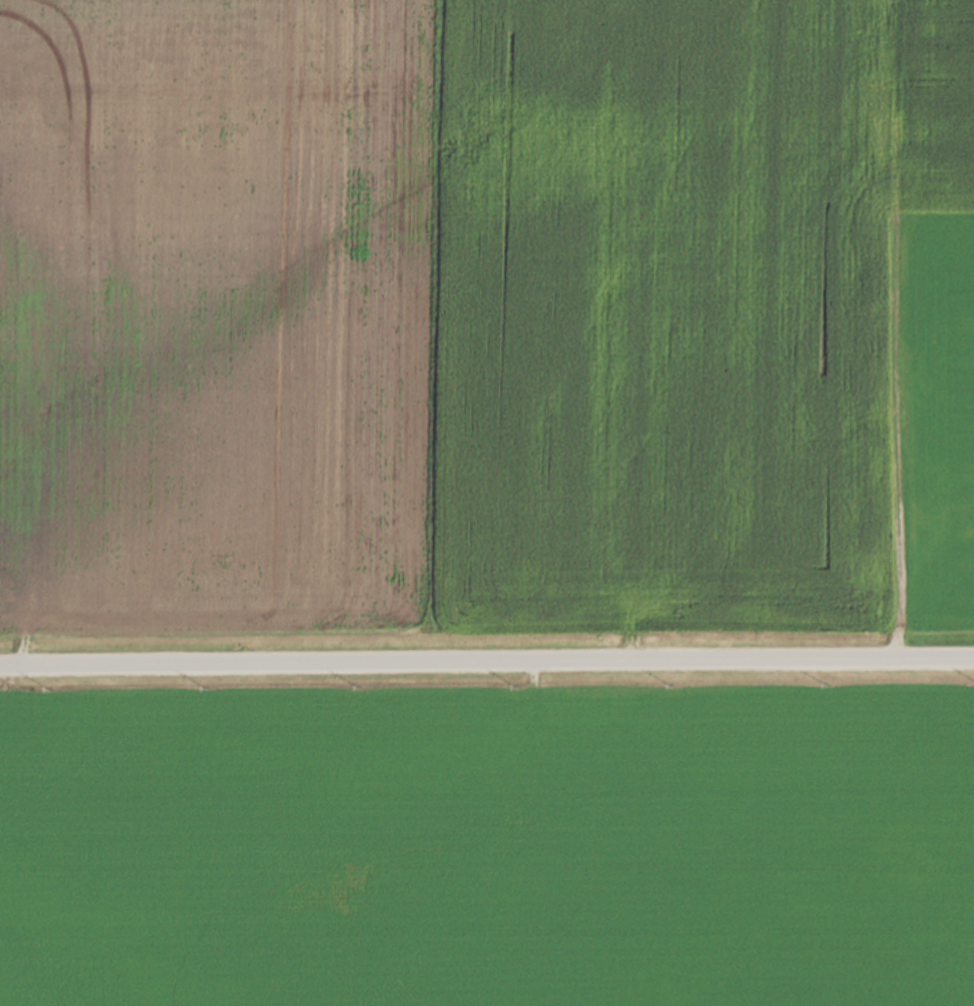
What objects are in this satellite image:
road: (486, 660)

